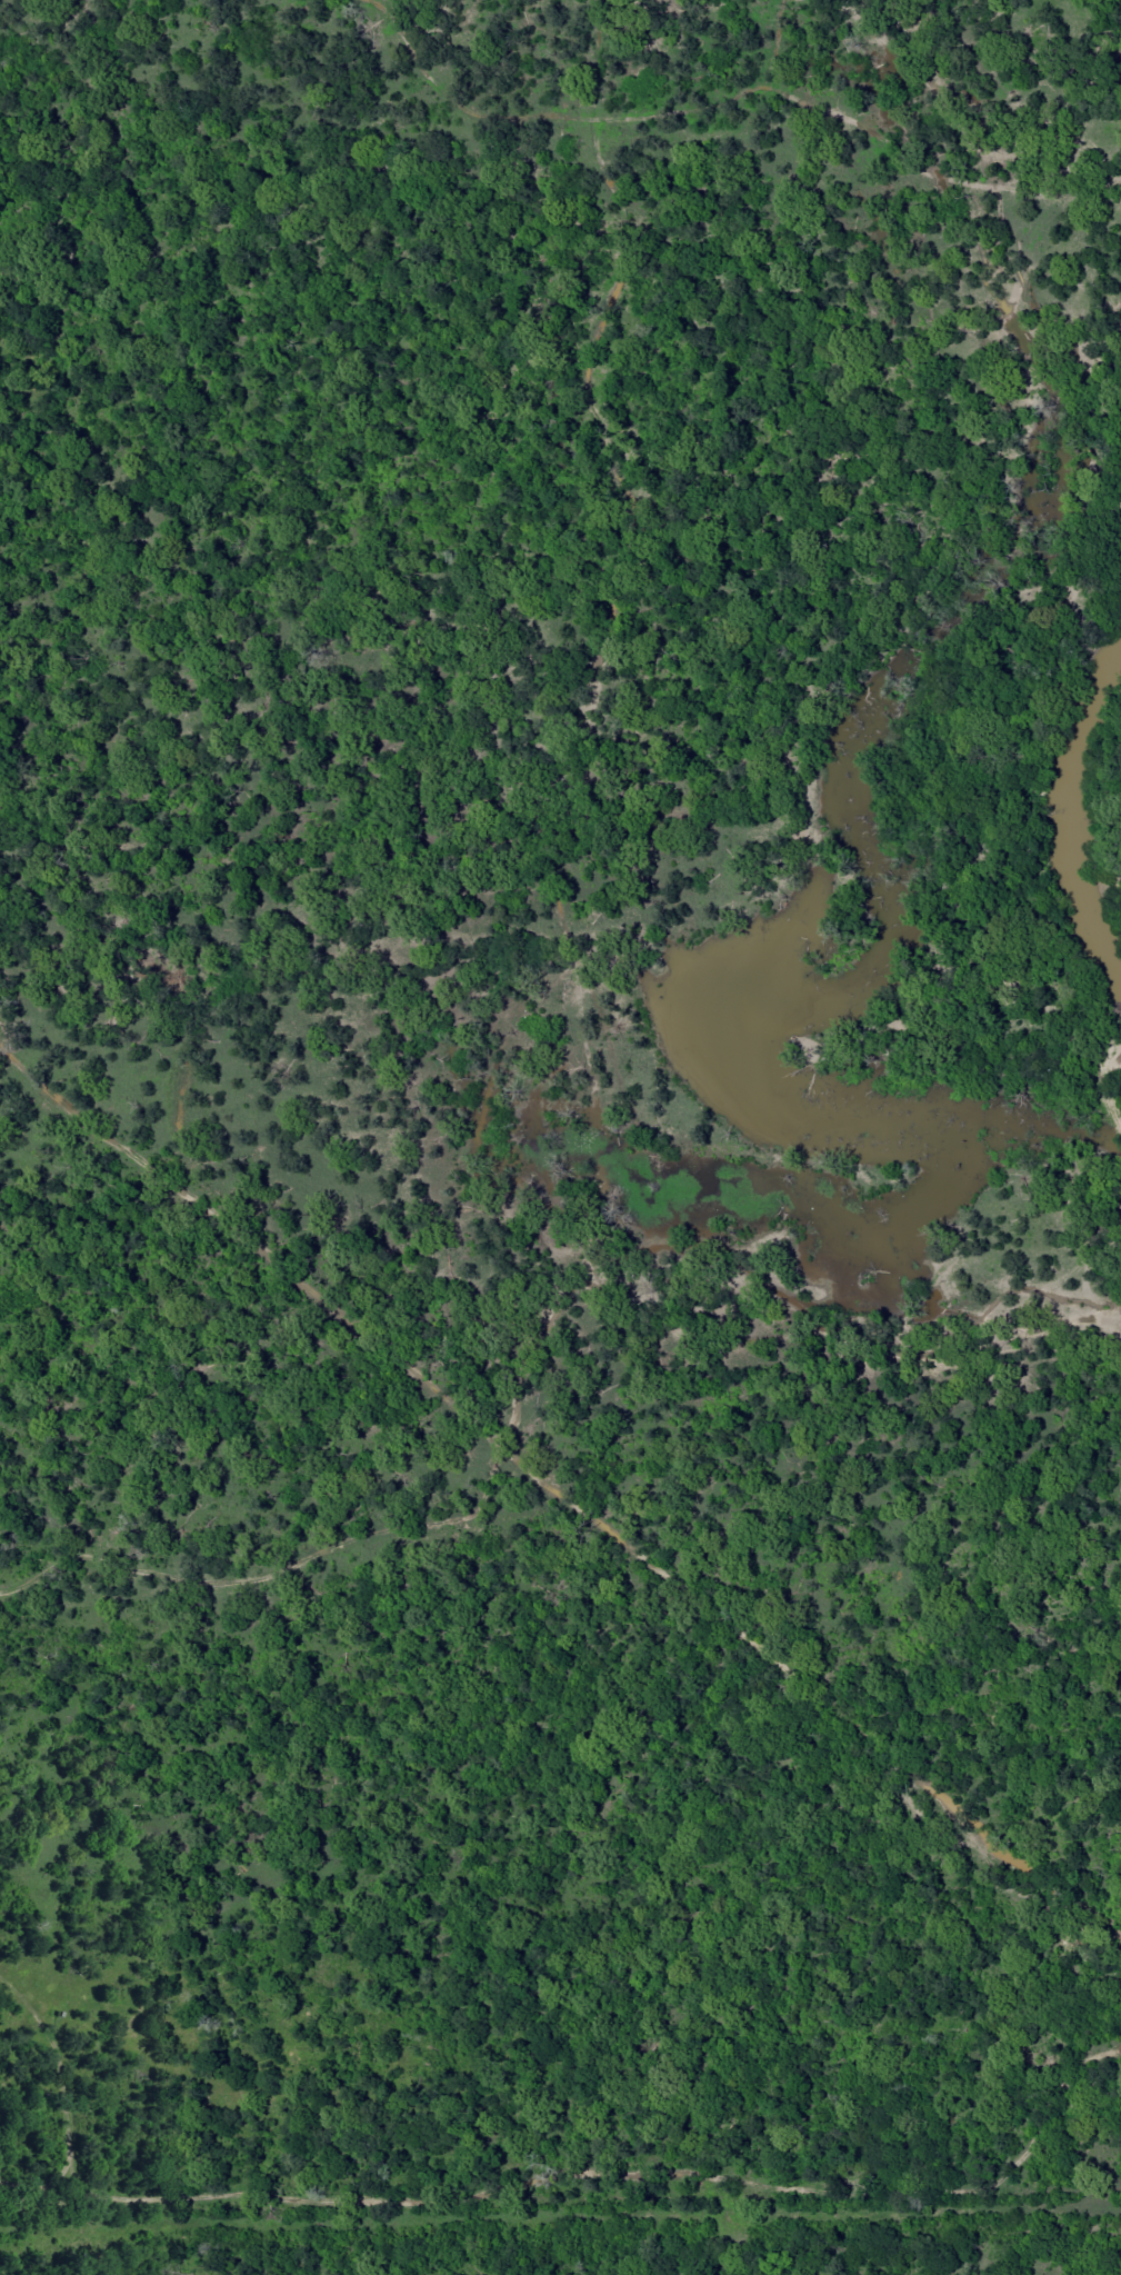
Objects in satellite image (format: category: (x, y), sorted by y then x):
river: (1053, 820)

